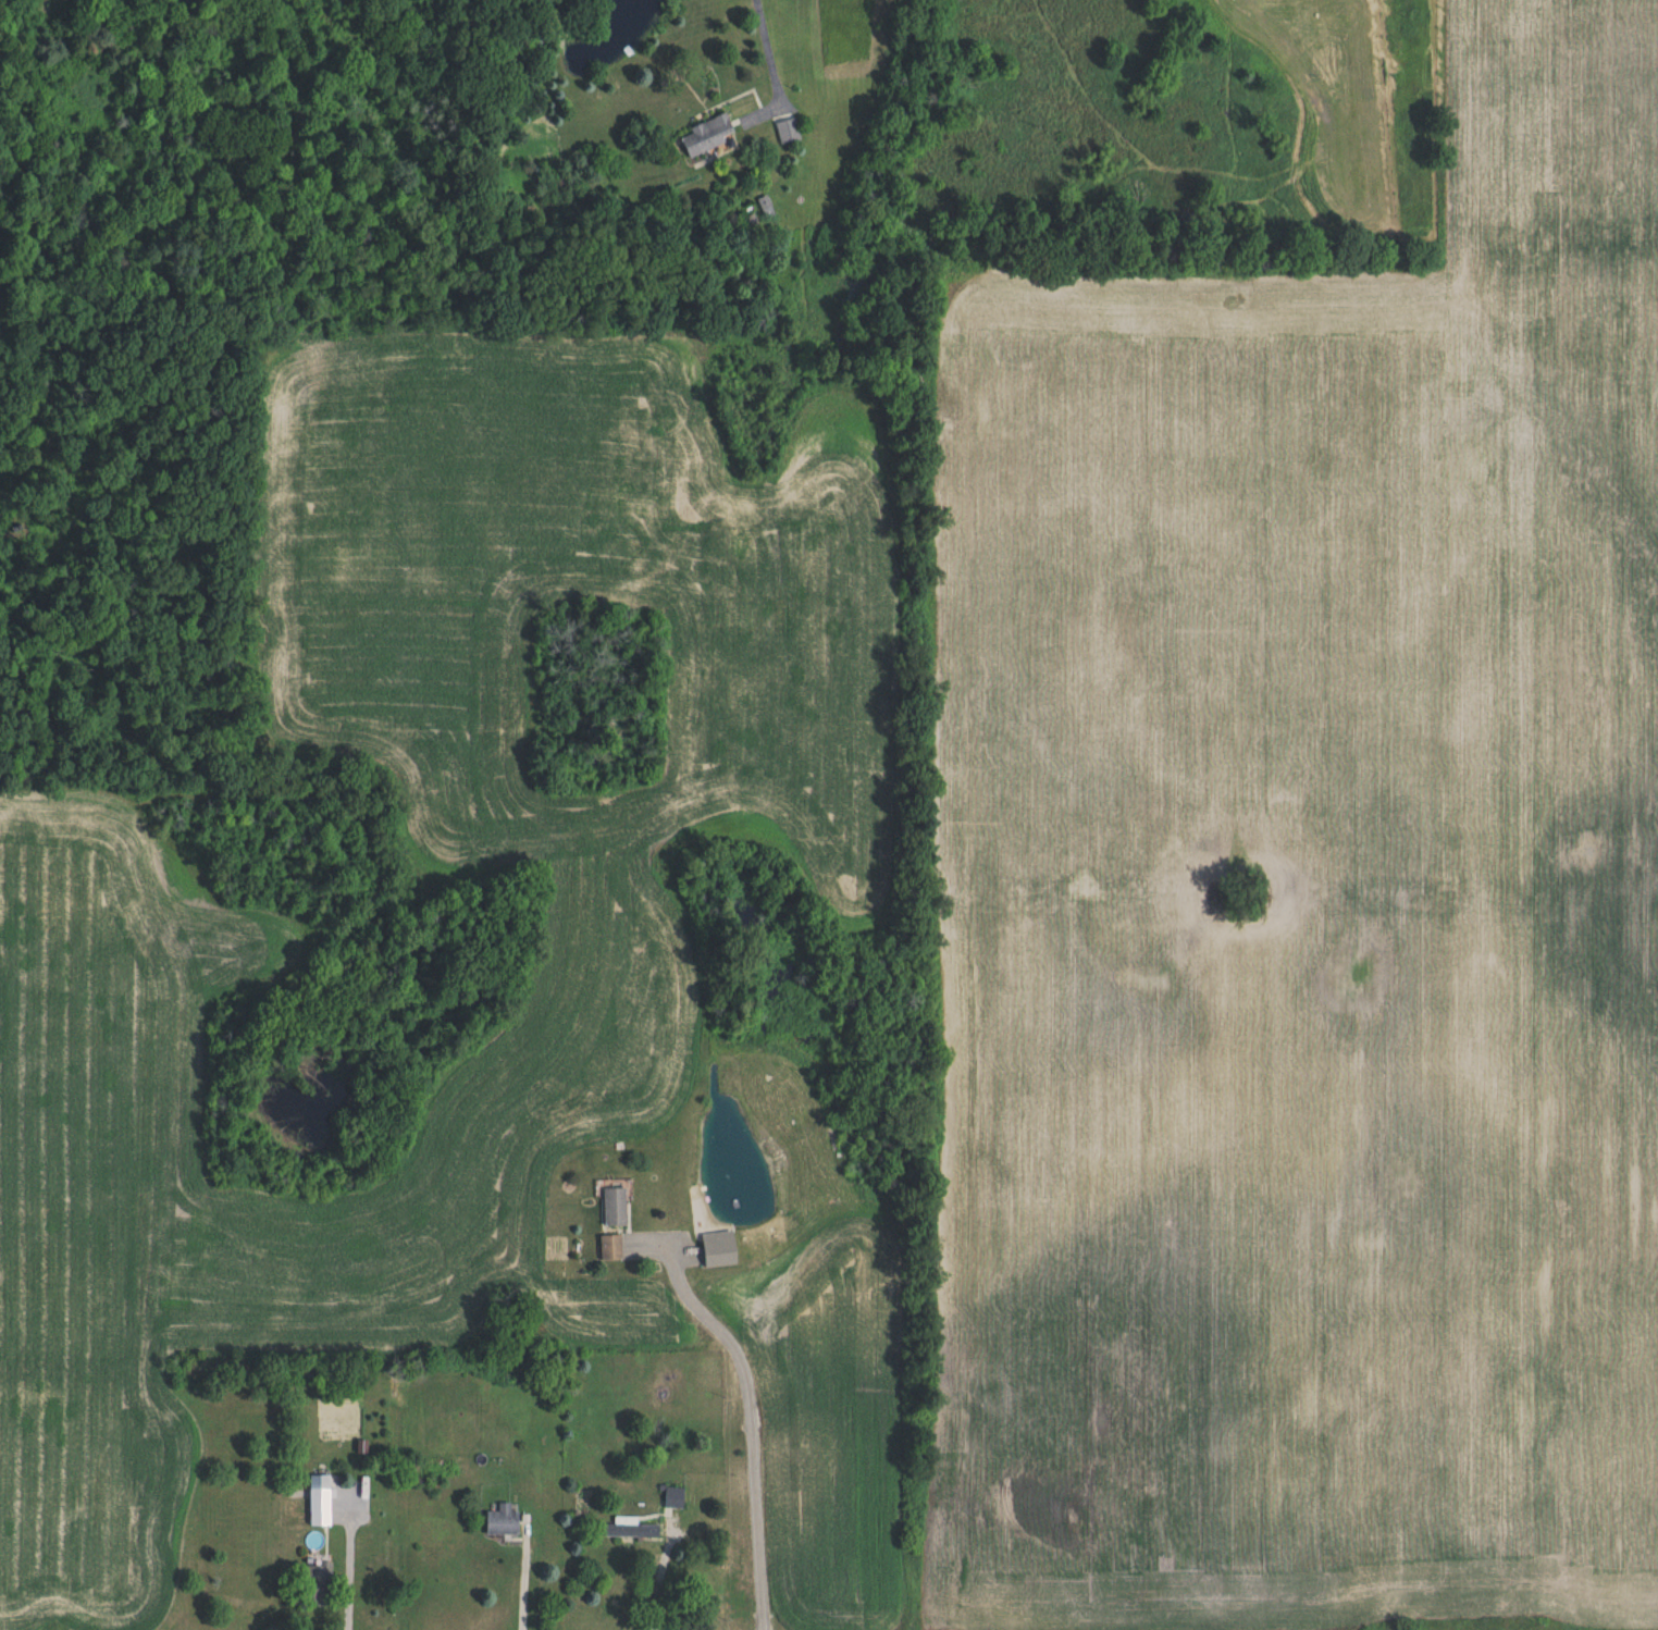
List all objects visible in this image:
road: (771, 66)
building: (785, 131)
building: (709, 137)
building: (616, 1208)
building: (611, 1248)
road: (753, 1427)
building: (675, 1498)
building: (321, 1507)
building: (504, 1521)
building: (628, 1529)
road: (345, 1563)
road: (521, 1584)

